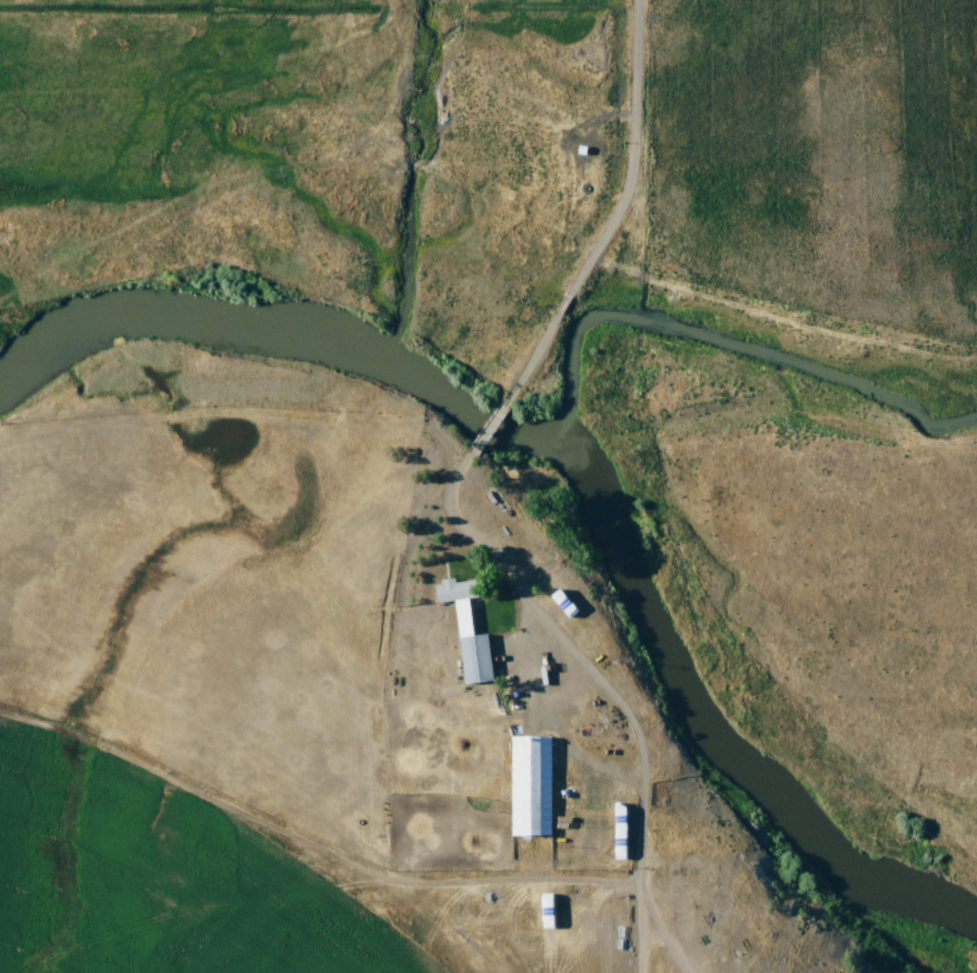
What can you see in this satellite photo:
road: (615, 212)
road: (488, 427)
river: (589, 462)
building: (467, 630)
road: (604, 684)
building: (530, 787)

